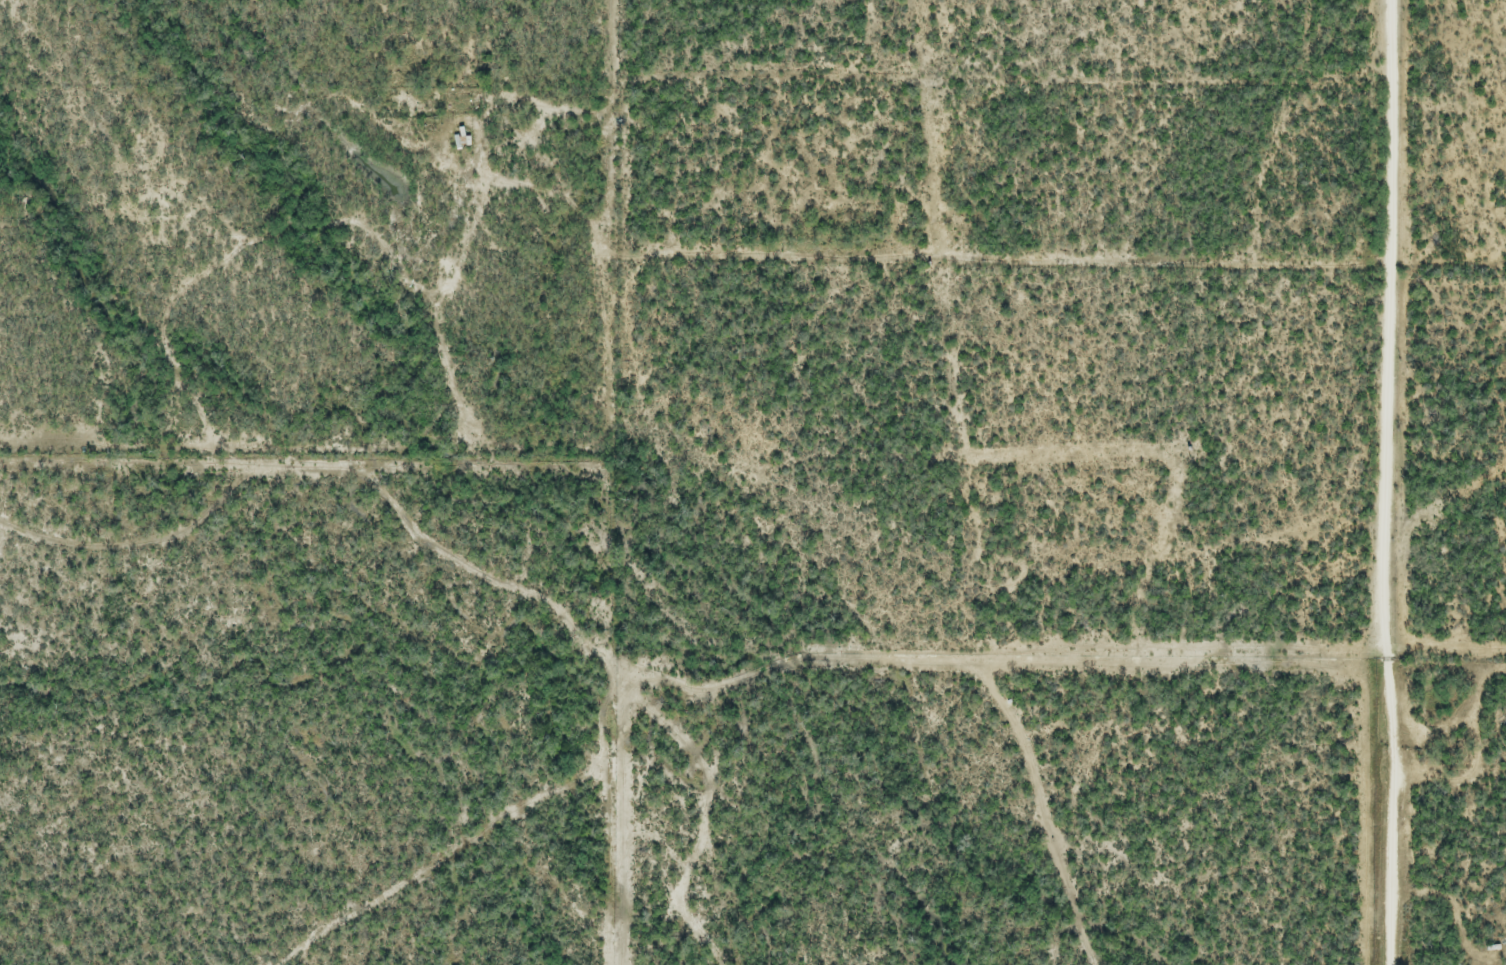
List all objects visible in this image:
road: (1384, 482)

